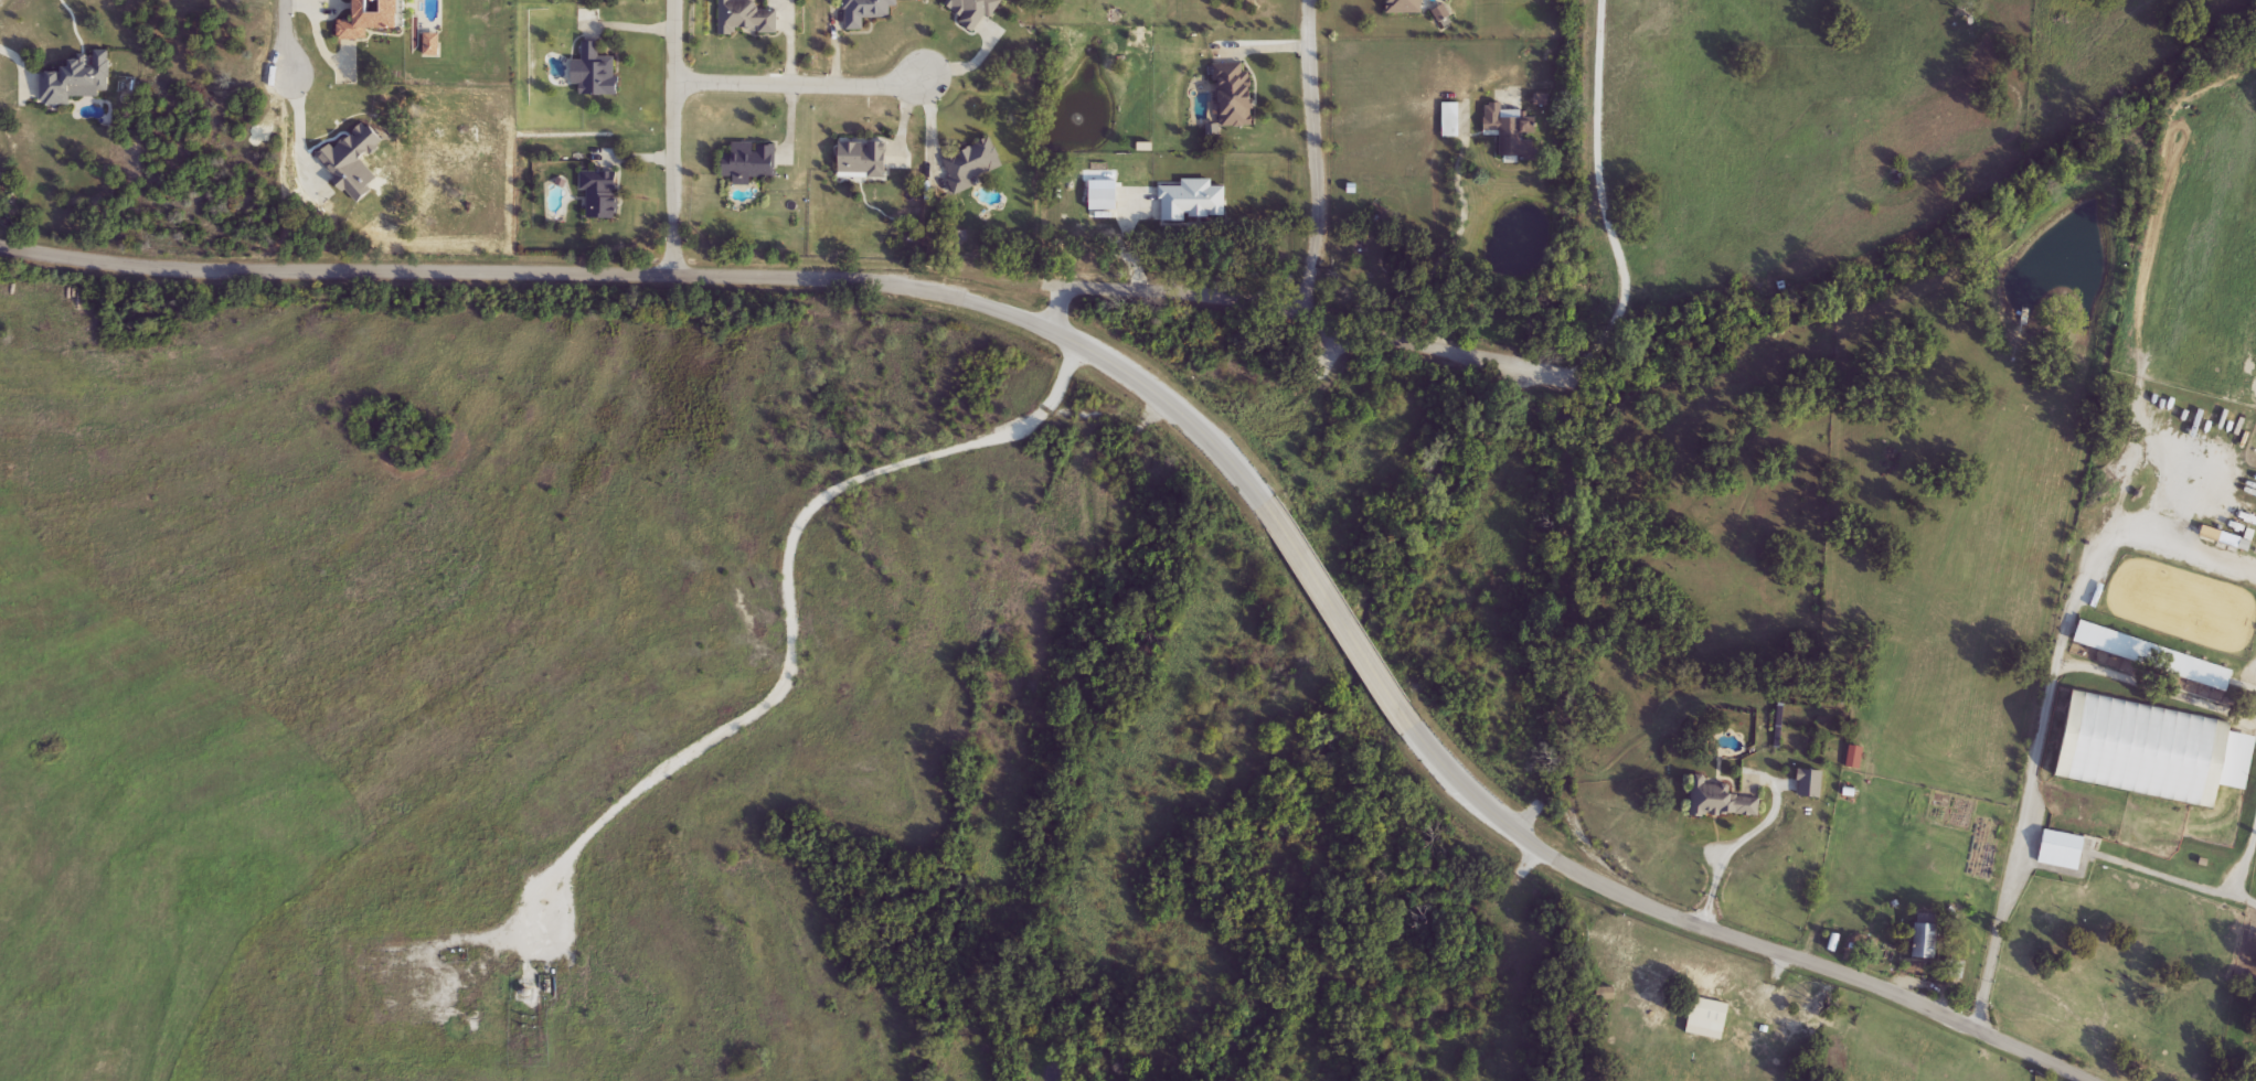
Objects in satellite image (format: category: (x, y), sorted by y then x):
building: (1401, 7)
building: (868, 12)
building: (973, 12)
building: (746, 19)
road: (290, 38)
building: (600, 73)
road: (801, 84)
building: (1236, 94)
building: (1451, 119)
road: (300, 127)
building: (1513, 130)
road: (933, 133)
road: (678, 136)
building: (864, 160)
building: (751, 161)
building: (970, 165)
building: (603, 194)
road: (1599, 200)
road: (1452, 246)
road: (1308, 297)
road: (1437, 346)
road: (1161, 394)
road: (780, 593)
building: (2156, 657)
road: (2047, 704)
building: (2153, 751)
building: (1811, 784)
building: (1722, 800)
road: (1746, 833)
building: (2062, 850)
road: (2164, 870)
road: (2234, 871)
building: (1925, 942)
building: (1710, 1016)

